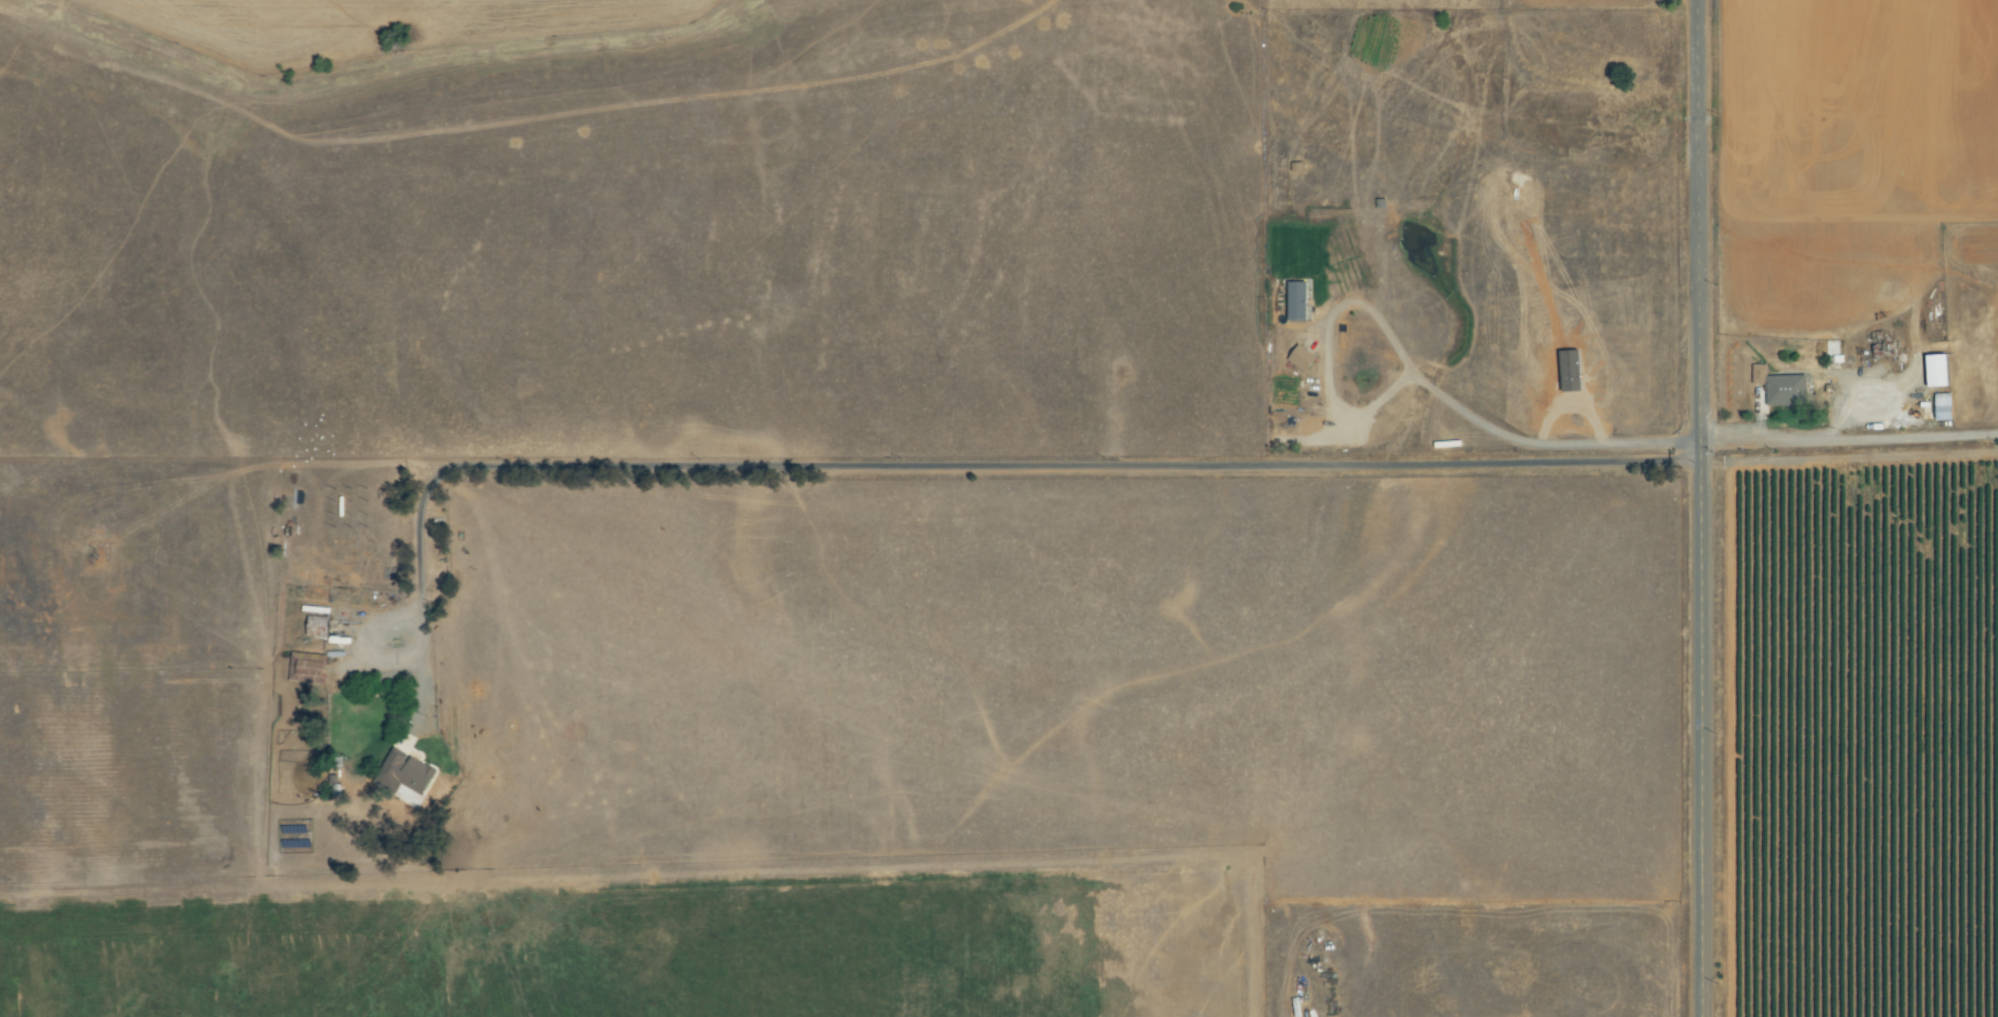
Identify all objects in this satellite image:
building: (1298, 301)
building: (1303, 359)
building: (1777, 387)
building: (1938, 407)
road: (1112, 463)
road: (1701, 508)
building: (319, 624)
building: (302, 670)
crop: (1862, 740)
building: (409, 772)

